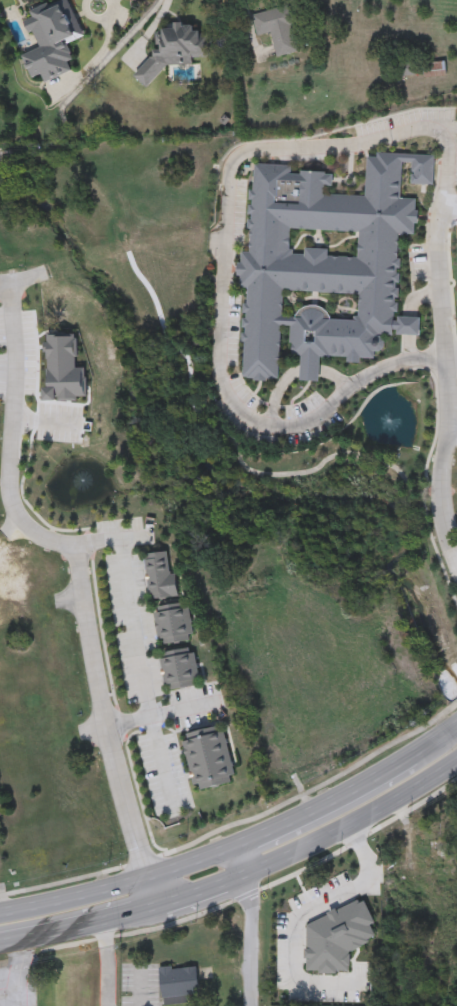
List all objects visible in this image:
building: (276, 29)
building: (52, 39)
road: (104, 46)
building: (173, 50)
building: (423, 69)
road: (228, 183)
parking lot: (442, 197)
road: (449, 207)
building: (326, 265)
road: (20, 279)
road: (409, 317)
parking lot: (225, 327)
road: (451, 357)
building: (64, 368)
road: (292, 374)
road: (45, 422)
parking lot: (60, 424)
road: (452, 432)
road: (237, 453)
road: (442, 462)
road: (134, 538)
building: (160, 578)
road: (80, 579)
building: (174, 624)
road: (132, 628)
parking lot: (149, 669)
building: (180, 670)
road: (182, 709)
road: (434, 738)
building: (209, 760)
road: (160, 762)
road: (329, 802)
road: (357, 820)
road: (237, 822)
road: (248, 858)
road: (123, 886)
road: (206, 892)
road: (299, 917)
road: (79, 929)
road: (254, 939)
road: (6, 958)
road: (107, 965)
road: (18, 976)
building: (177, 983)
road: (17, 999)

